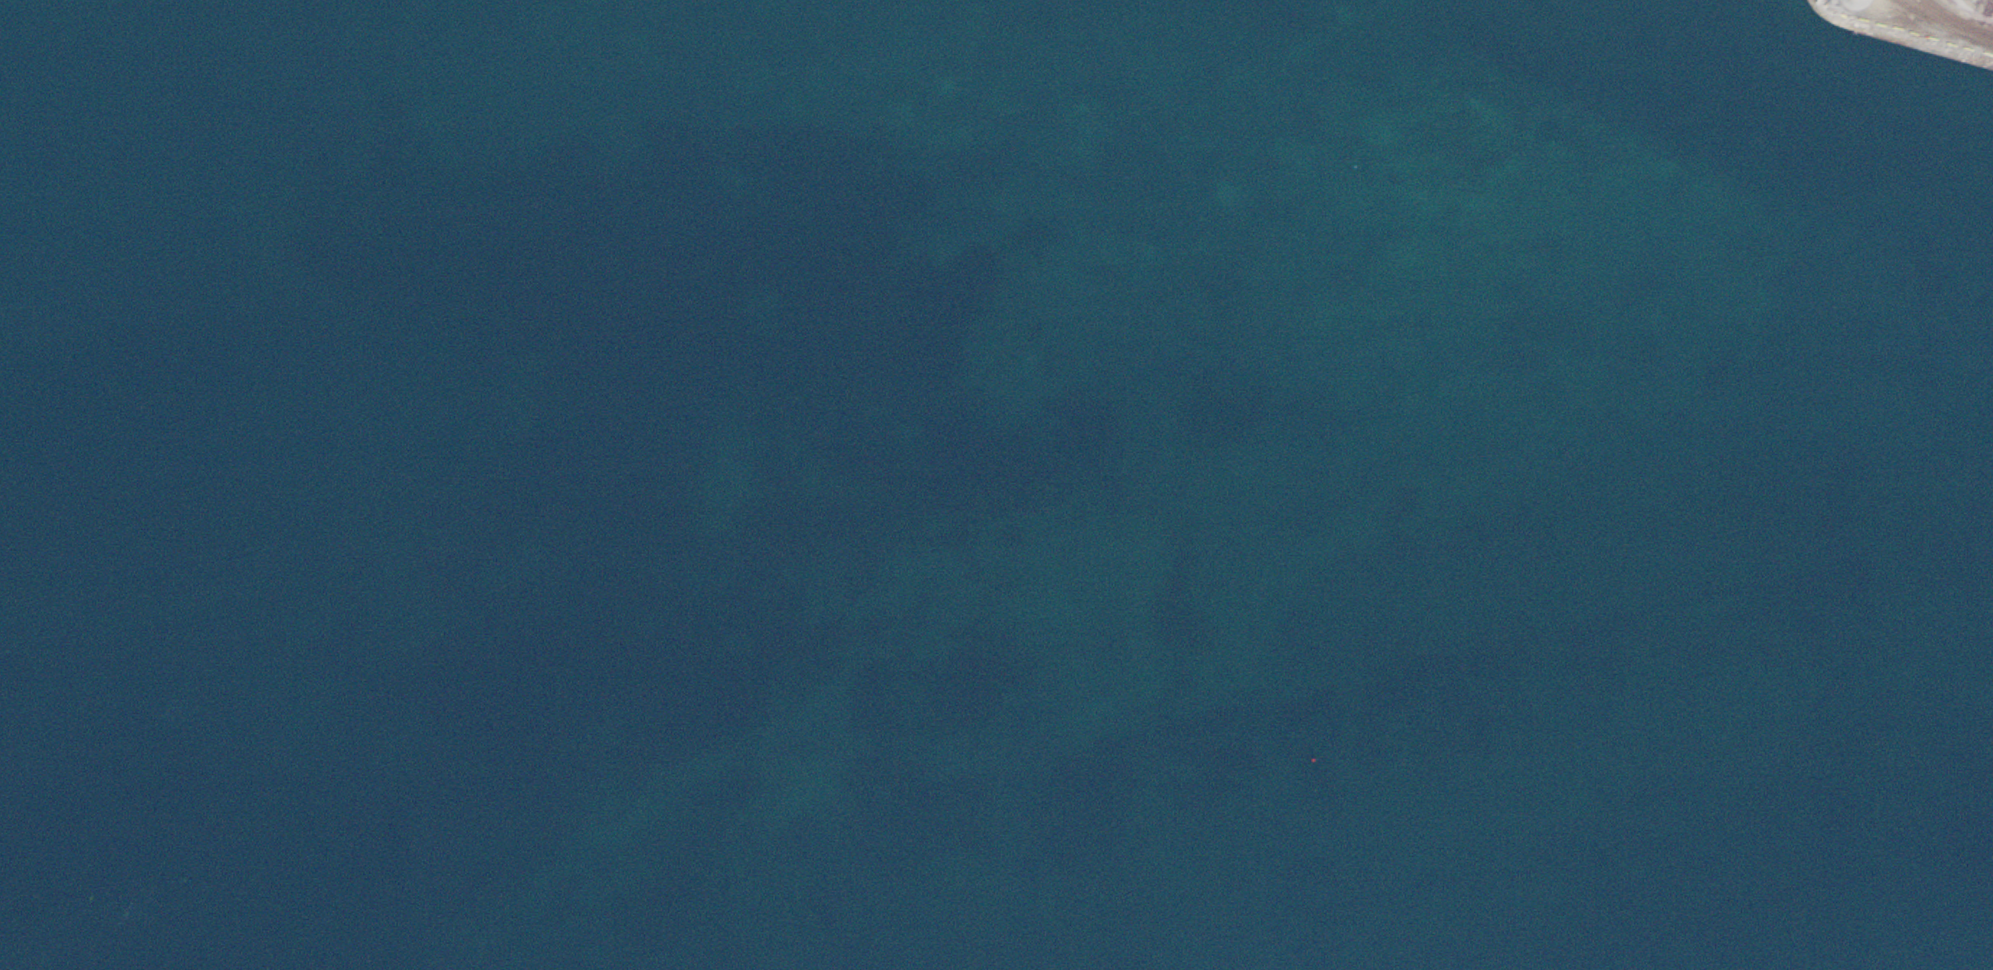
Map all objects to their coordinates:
quarry: (1919, 27)

